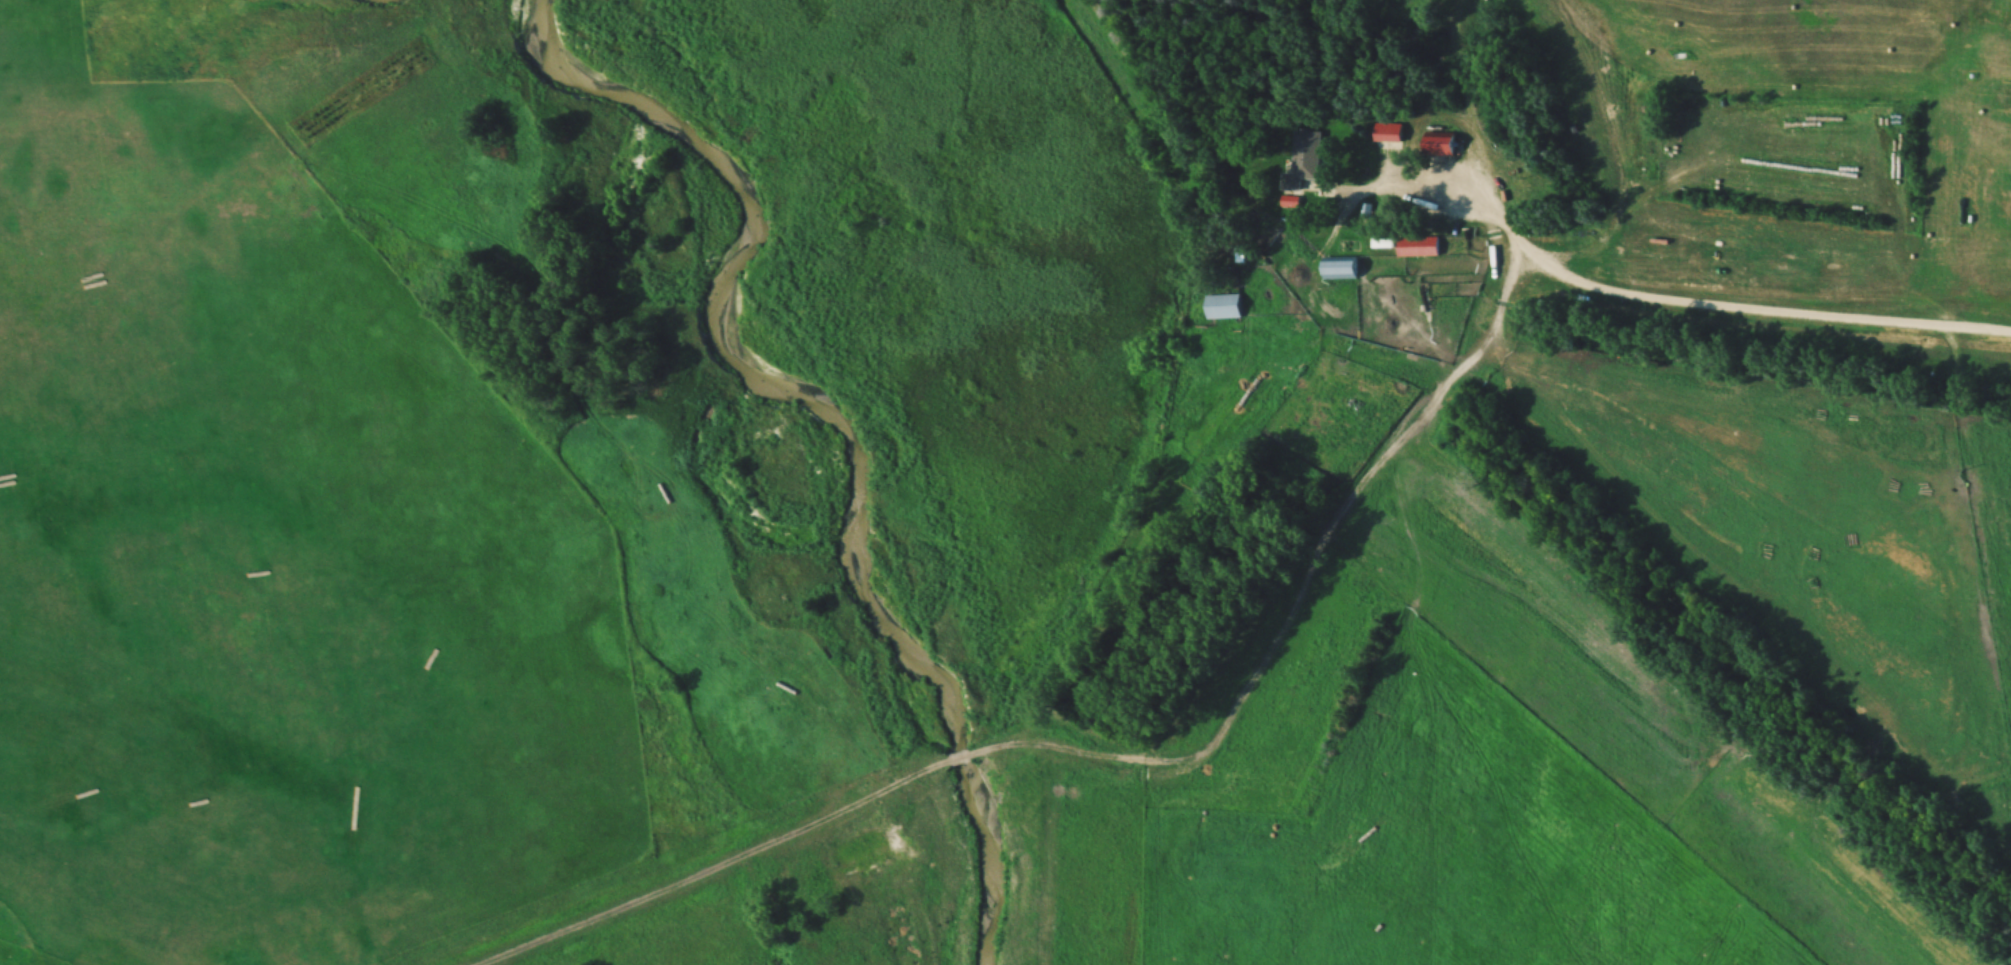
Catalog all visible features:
building: (1388, 133)
building: (1447, 143)
building: (1301, 157)
building: (1416, 246)
building: (1339, 268)
building: (1221, 307)
road: (1714, 307)
river: (825, 434)
road: (1287, 595)
road: (956, 757)
road: (713, 867)

